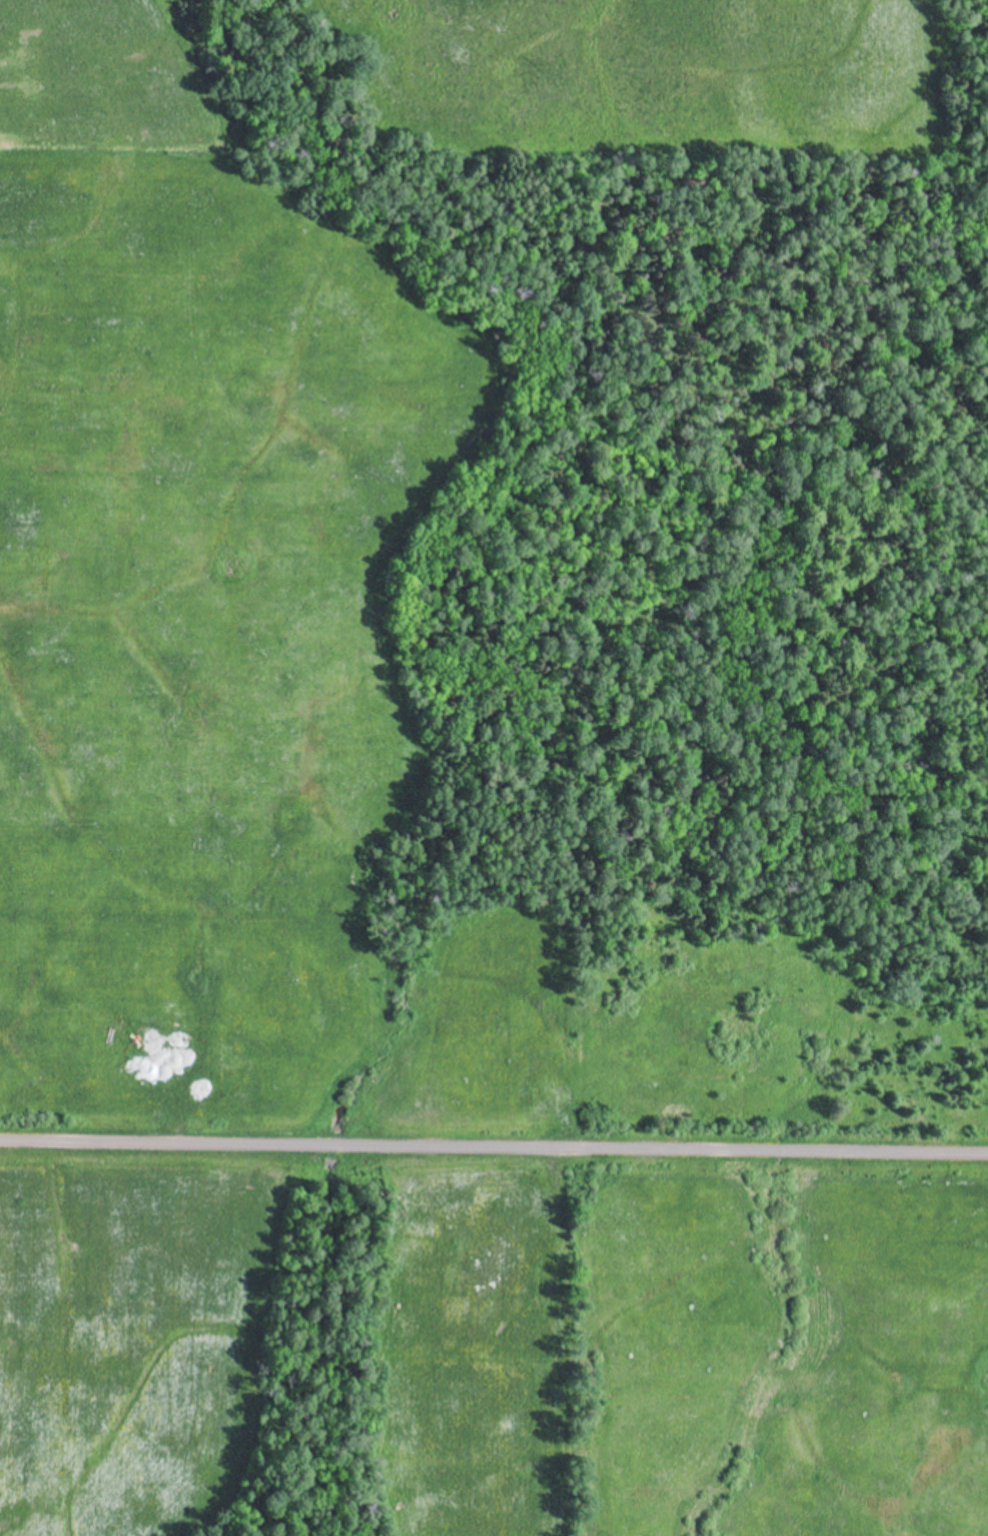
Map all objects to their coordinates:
road: (494, 1145)

